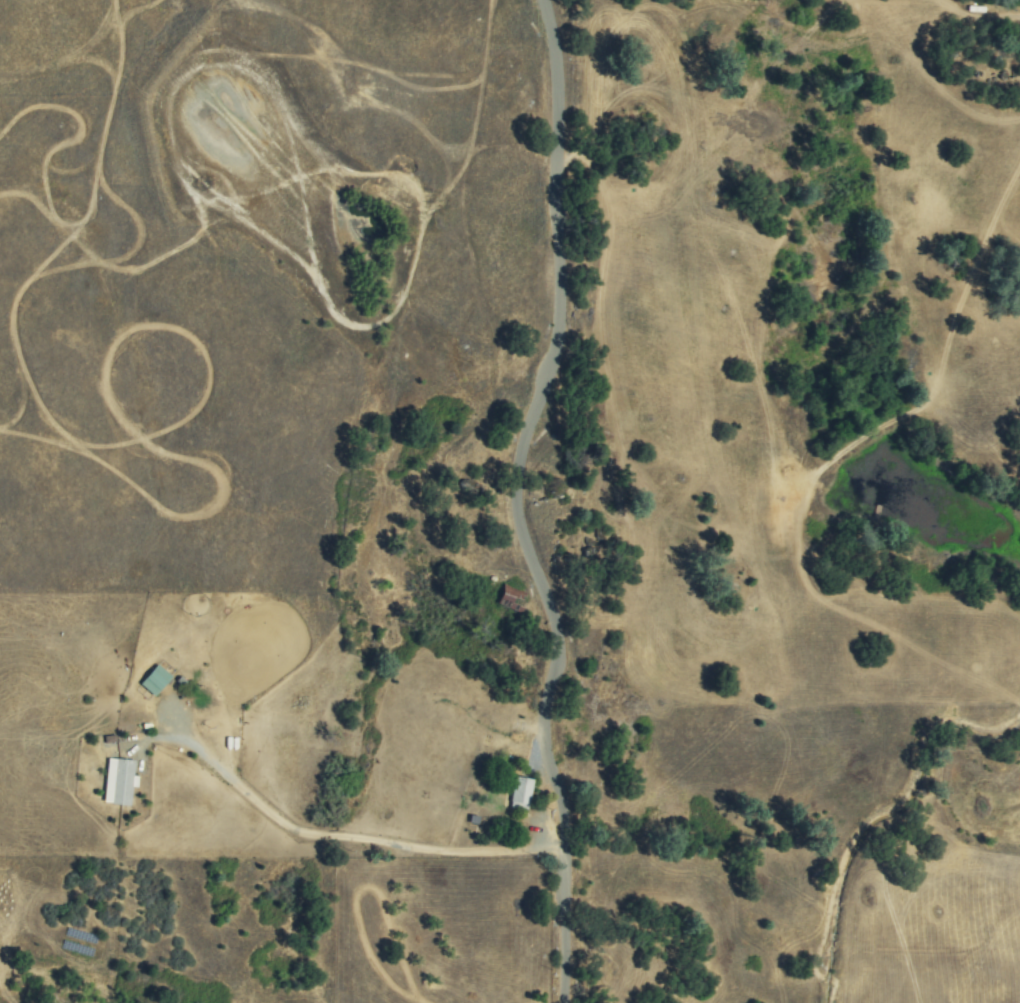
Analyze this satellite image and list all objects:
building: (511, 599)
building: (154, 680)
building: (118, 781)
building: (519, 793)
road: (335, 836)
road: (564, 927)

